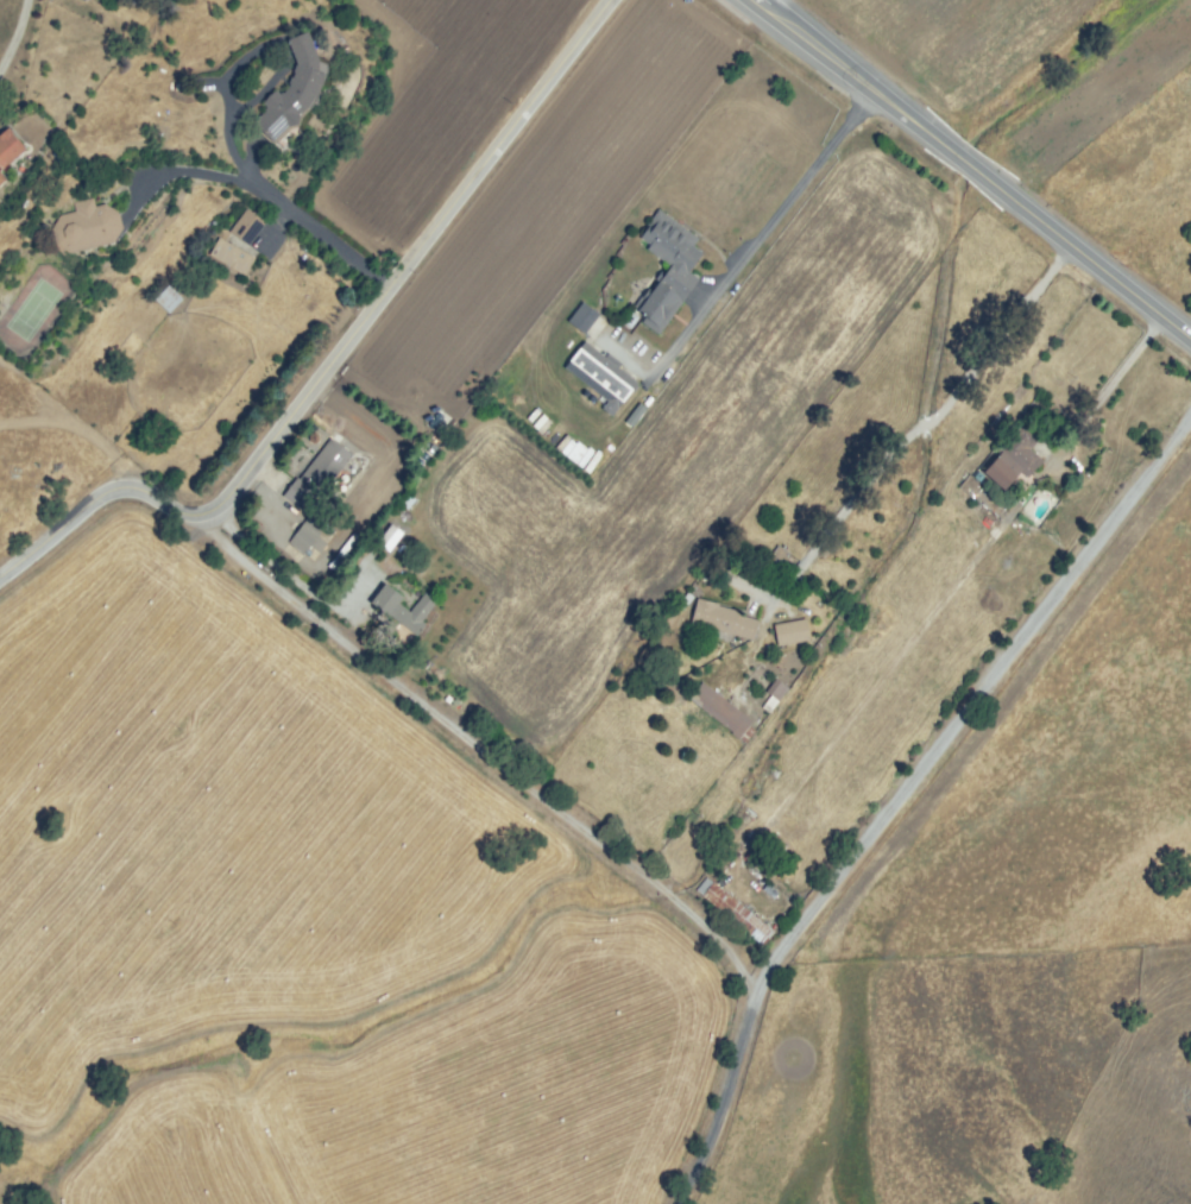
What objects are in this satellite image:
road: (12, 30)
building: (344, 50)
building: (291, 89)
crop: (441, 112)
road: (231, 119)
building: (8, 146)
road: (977, 166)
building: (1, 177)
road: (289, 201)
building: (86, 225)
building: (245, 226)
road: (767, 233)
building: (674, 250)
building: (229, 256)
building: (168, 298)
building: (660, 309)
building: (585, 317)
road: (334, 358)
road: (1126, 361)
building: (601, 377)
building: (635, 417)
road: (925, 423)
building: (1017, 458)
building: (324, 467)
building: (383, 473)
building: (297, 498)
building: (387, 536)
building: (309, 538)
building: (353, 560)
building: (415, 613)
building: (721, 619)
building: (792, 633)
building: (776, 692)
building: (721, 711)
road: (480, 749)
road: (903, 792)
building: (733, 909)
crop: (311, 920)

